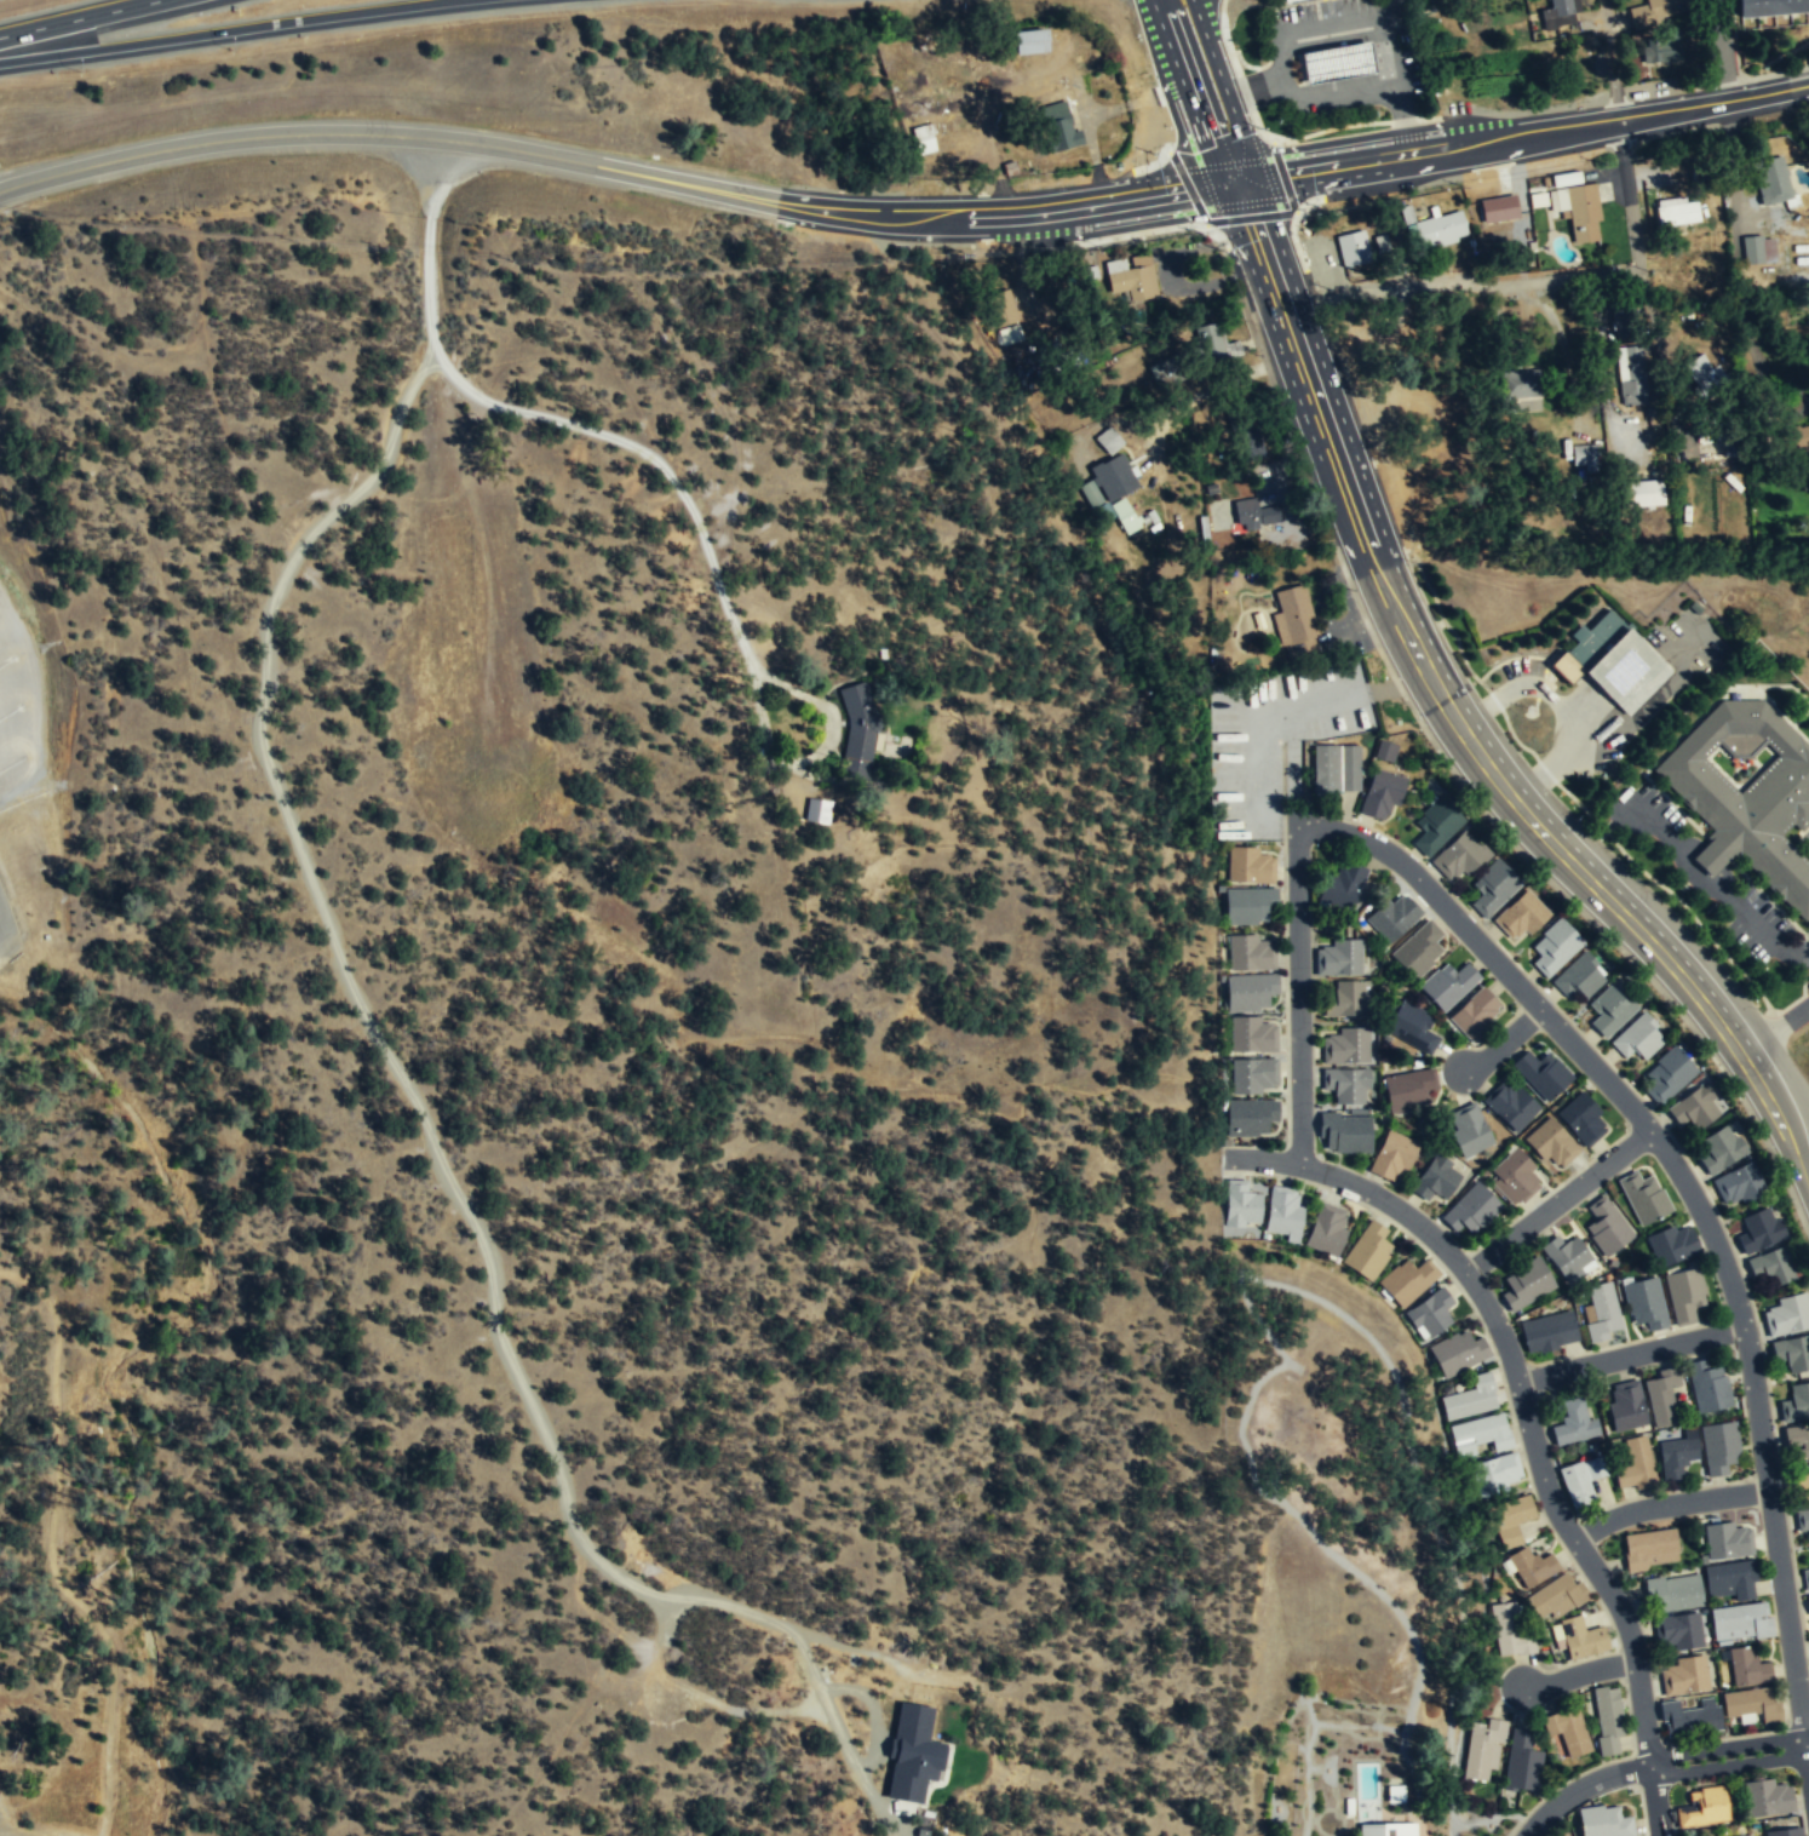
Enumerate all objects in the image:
building: (1283, 0)
building: (1290, 0)
building: (1770, 7)
building: (1653, 11)
road: (1330, 12)
building: (1560, 13)
road: (77, 18)
road: (1205, 22)
road: (229, 30)
road: (1283, 31)
building: (1032, 42)
building: (1660, 48)
road: (1723, 52)
parking lot: (1337, 58)
gas station: (1334, 63)
building: (1337, 64)
road: (1228, 73)
road: (1395, 84)
road: (1214, 92)
road: (1182, 99)
road: (1713, 105)
street lamp: (1365, 121)
building: (1058, 127)
road: (1346, 128)
building: (925, 137)
road: (216, 140)
road: (1459, 144)
road: (1268, 173)
road: (430, 177)
road: (1271, 177)
building: (1771, 180)
traffic signals: (1235, 187)
road: (764, 200)
road: (1166, 201)
building: (1676, 210)
building: (1500, 211)
building: (1583, 214)
road: (1250, 222)
building: (1438, 230)
building: (1353, 251)
building: (1383, 251)
building: (1757, 252)
road: (1590, 276)
building: (1131, 279)
building: (1004, 316)
building: (1625, 321)
building: (1217, 343)
building: (1161, 373)
building: (1630, 377)
building: (1706, 377)
building: (1526, 383)
building: (1705, 431)
building: (1108, 441)
building: (1796, 441)
building: (1248, 442)
road: (615, 443)
building: (1584, 458)
building: (1110, 490)
building: (1643, 494)
building: (1253, 516)
building: (1292, 618)
road: (7, 632)
road: (1694, 635)
building: (1614, 659)
road: (18, 671)
road: (1528, 687)
road: (35, 701)
road: (1484, 707)
road: (1638, 708)
parking lot: (21, 716)
road: (1567, 717)
road: (1458, 725)
building: (857, 729)
road: (17, 733)
building: (1384, 751)
building: (1334, 768)
road: (1541, 774)
building: (1746, 788)
building: (1380, 794)
building: (817, 811)
building: (1435, 826)
building: (1458, 856)
building: (1248, 865)
road: (1707, 884)
building: (1342, 885)
building: (1493, 888)
building: (1247, 905)
building: (1392, 916)
building: (1521, 916)
building: (1554, 946)
building: (1418, 948)
road: (1805, 951)
building: (1250, 952)
building: (1339, 957)
building: (1578, 975)
building: (1447, 983)
building: (1248, 992)
road: (1299, 993)
building: (1345, 999)
building: (1609, 1009)
building: (1474, 1014)
building: (1411, 1026)
road: (1773, 1027)
building: (1251, 1034)
building: (1637, 1037)
road: (1503, 1042)
building: (1345, 1045)
building: (1541, 1072)
building: (1667, 1073)
building: (1252, 1075)
building: (1345, 1084)
building: (1408, 1088)
building: (1510, 1105)
building: (1694, 1106)
building: (1247, 1117)
building: (1580, 1117)
building: (1468, 1129)
building: (1344, 1131)
building: (1551, 1141)
building: (1719, 1148)
building: (1392, 1154)
building: (1514, 1176)
building: (1435, 1177)
building: (1739, 1183)
building: (1643, 1197)
road: (1694, 1199)
road: (1557, 1201)
building: (1240, 1203)
building: (1471, 1209)
building: (1282, 1210)
building: (1606, 1226)
building: (1326, 1228)
building: (1759, 1230)
building: (1671, 1244)
building: (1367, 1250)
building: (1567, 1256)
building: (1773, 1264)
building: (1407, 1280)
building: (1526, 1283)
building: (1684, 1293)
building: (1647, 1302)
building: (1430, 1312)
building: (1602, 1312)
building: (1786, 1314)
building: (1547, 1331)
building: (1457, 1352)
building: (1792, 1352)
road: (1630, 1355)
building: (1707, 1385)
road: (1518, 1392)
road: (528, 1394)
building: (1661, 1395)
building: (1472, 1396)
building: (1796, 1402)
building: (1625, 1406)
building: (1572, 1422)
building: (1483, 1434)
building: (1797, 1441)
building: (1718, 1446)
building: (1676, 1456)
building: (1636, 1464)
building: (1595, 1468)
building: (1495, 1471)
building: (1801, 1478)
building: (1575, 1484)
building: (1805, 1497)
road: (1669, 1504)
building: (1510, 1519)
building: (1802, 1520)
building: (1727, 1540)
building: (1648, 1548)
building: (1531, 1566)
building: (1730, 1579)
building: (1805, 1579)
building: (1673, 1593)
building: (1556, 1596)
building: (1808, 1600)
building: (1742, 1618)
building: (1511, 1629)
building: (1678, 1630)
building: (1580, 1637)
building: (1747, 1668)
road: (1579, 1675)
building: (1685, 1676)
building: (1752, 1704)
building: (1608, 1719)
building: (1689, 1719)
building: (1567, 1731)
road: (1807, 1744)
building: (1484, 1746)
building: (914, 1755)
road: (1728, 1756)
road: (1807, 1758)
building: (1521, 1761)
road: (1580, 1786)
building: (1395, 1794)
building: (1767, 1797)
road: (1658, 1801)
building: (1704, 1807)
building: (1604, 1821)
building: (1386, 1829)
building: (1785, 1831)
road: (50, 1834)

